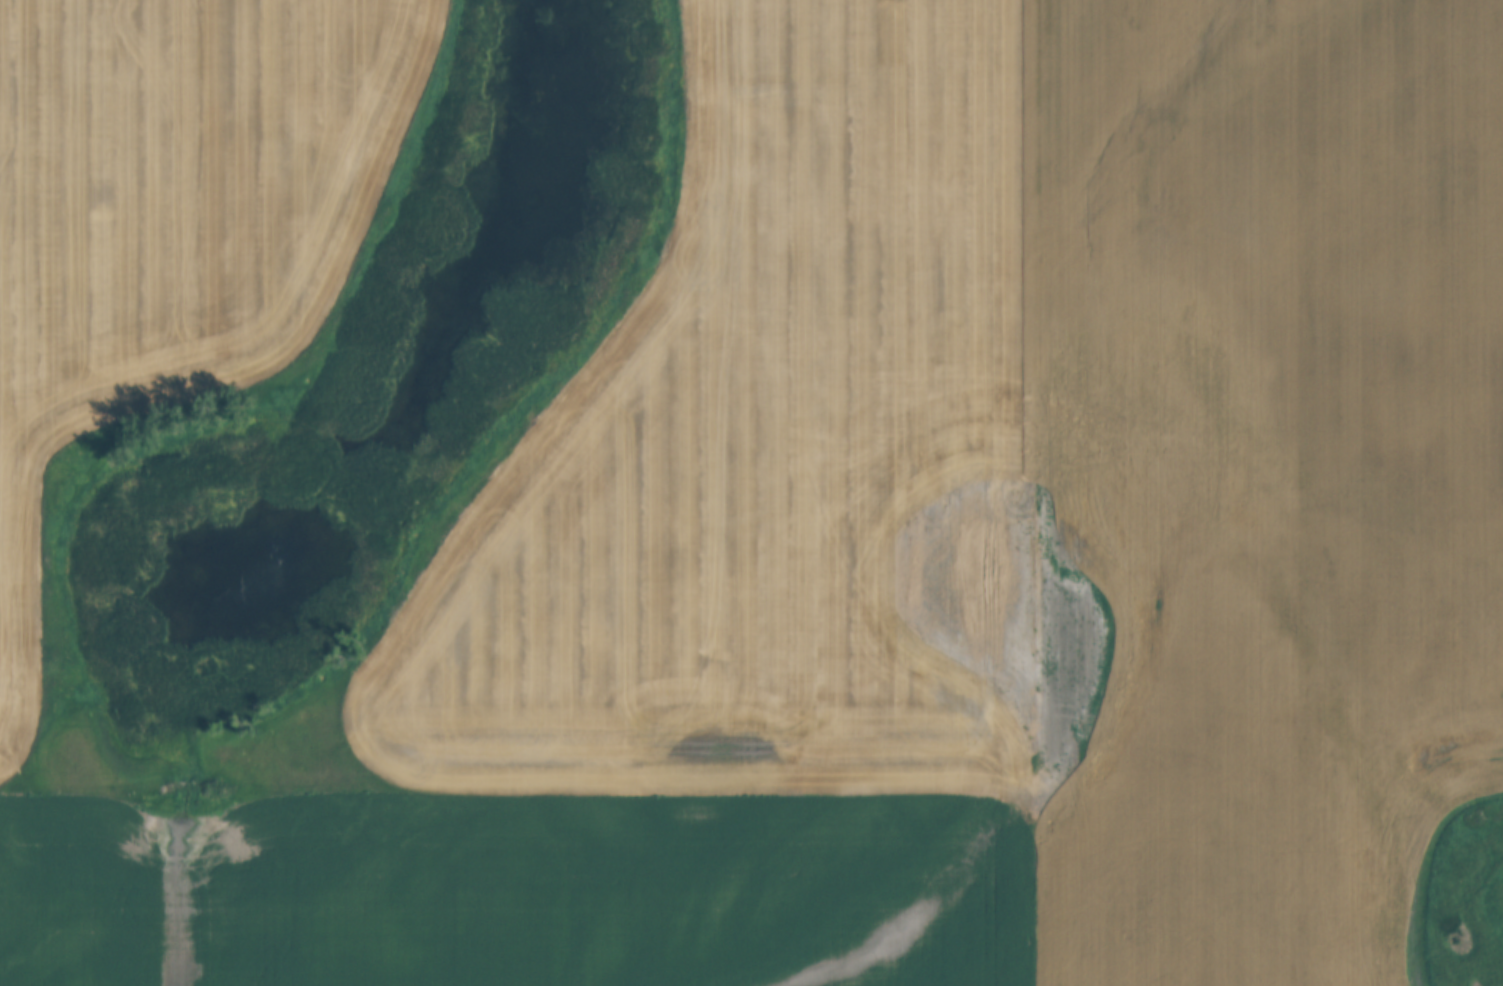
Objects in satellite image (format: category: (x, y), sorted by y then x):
road: (1025, 493)

